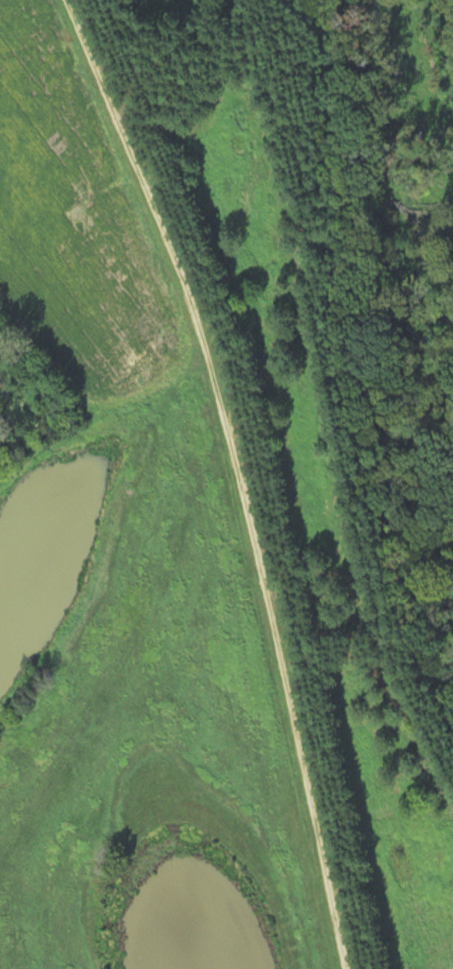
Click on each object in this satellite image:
road: (233, 474)

